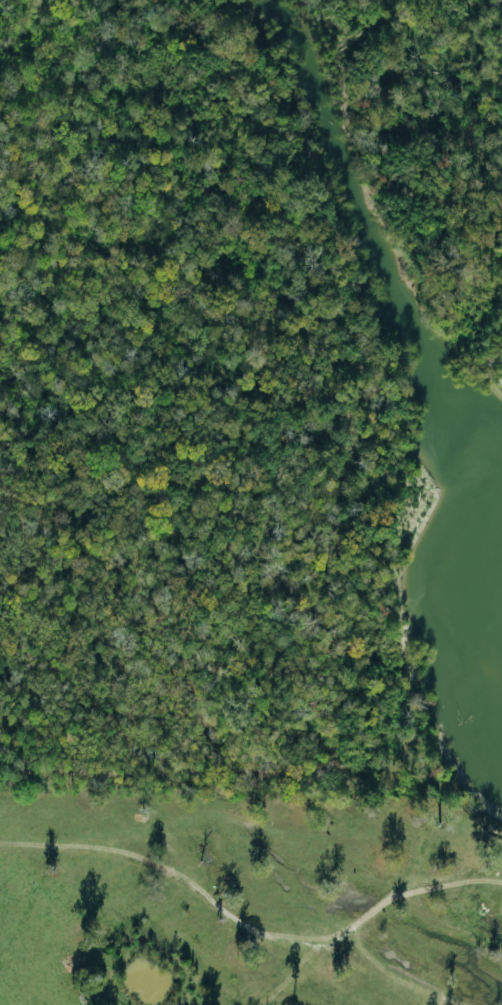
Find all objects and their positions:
road: (292, 863)
road: (114, 912)

